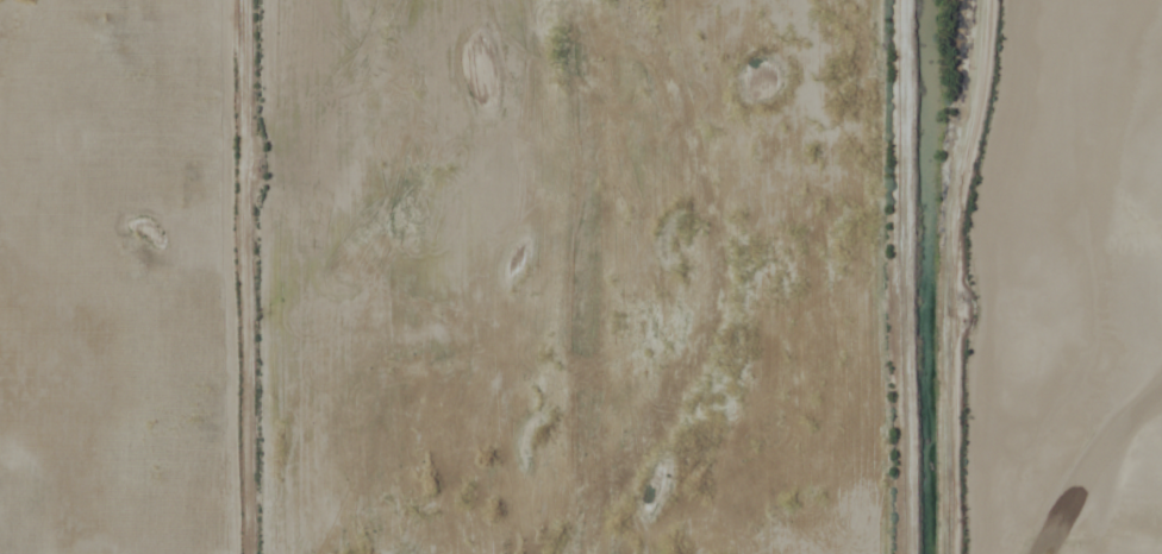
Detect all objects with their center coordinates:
road: (933, 277)

